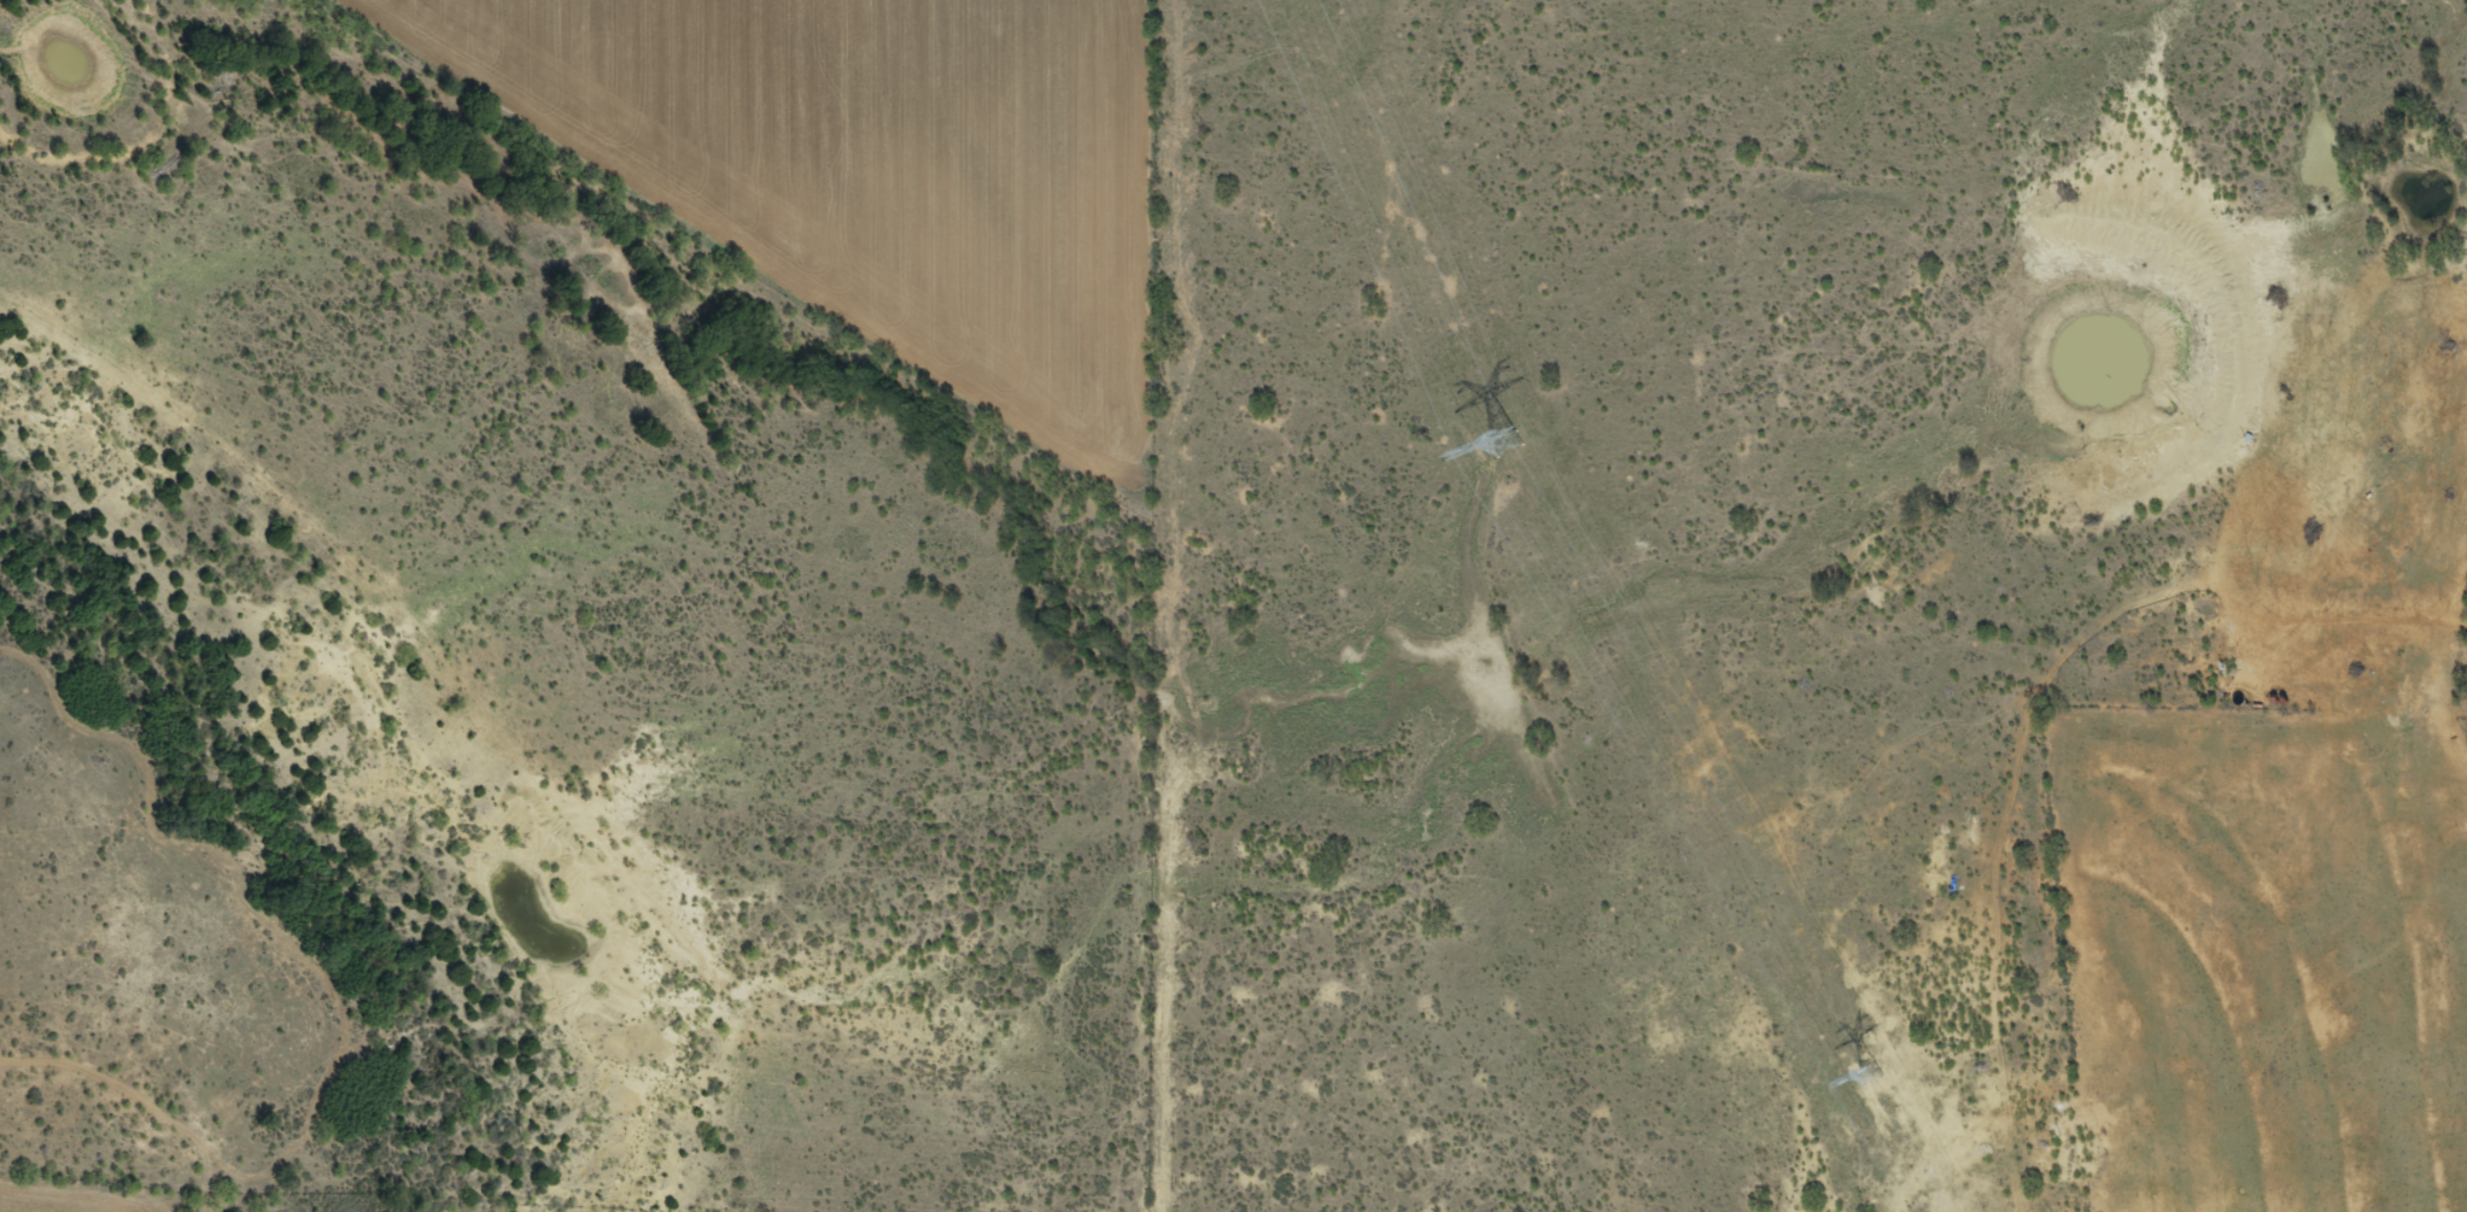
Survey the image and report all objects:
power tower: (1510, 449)
power tower: (1876, 1076)

